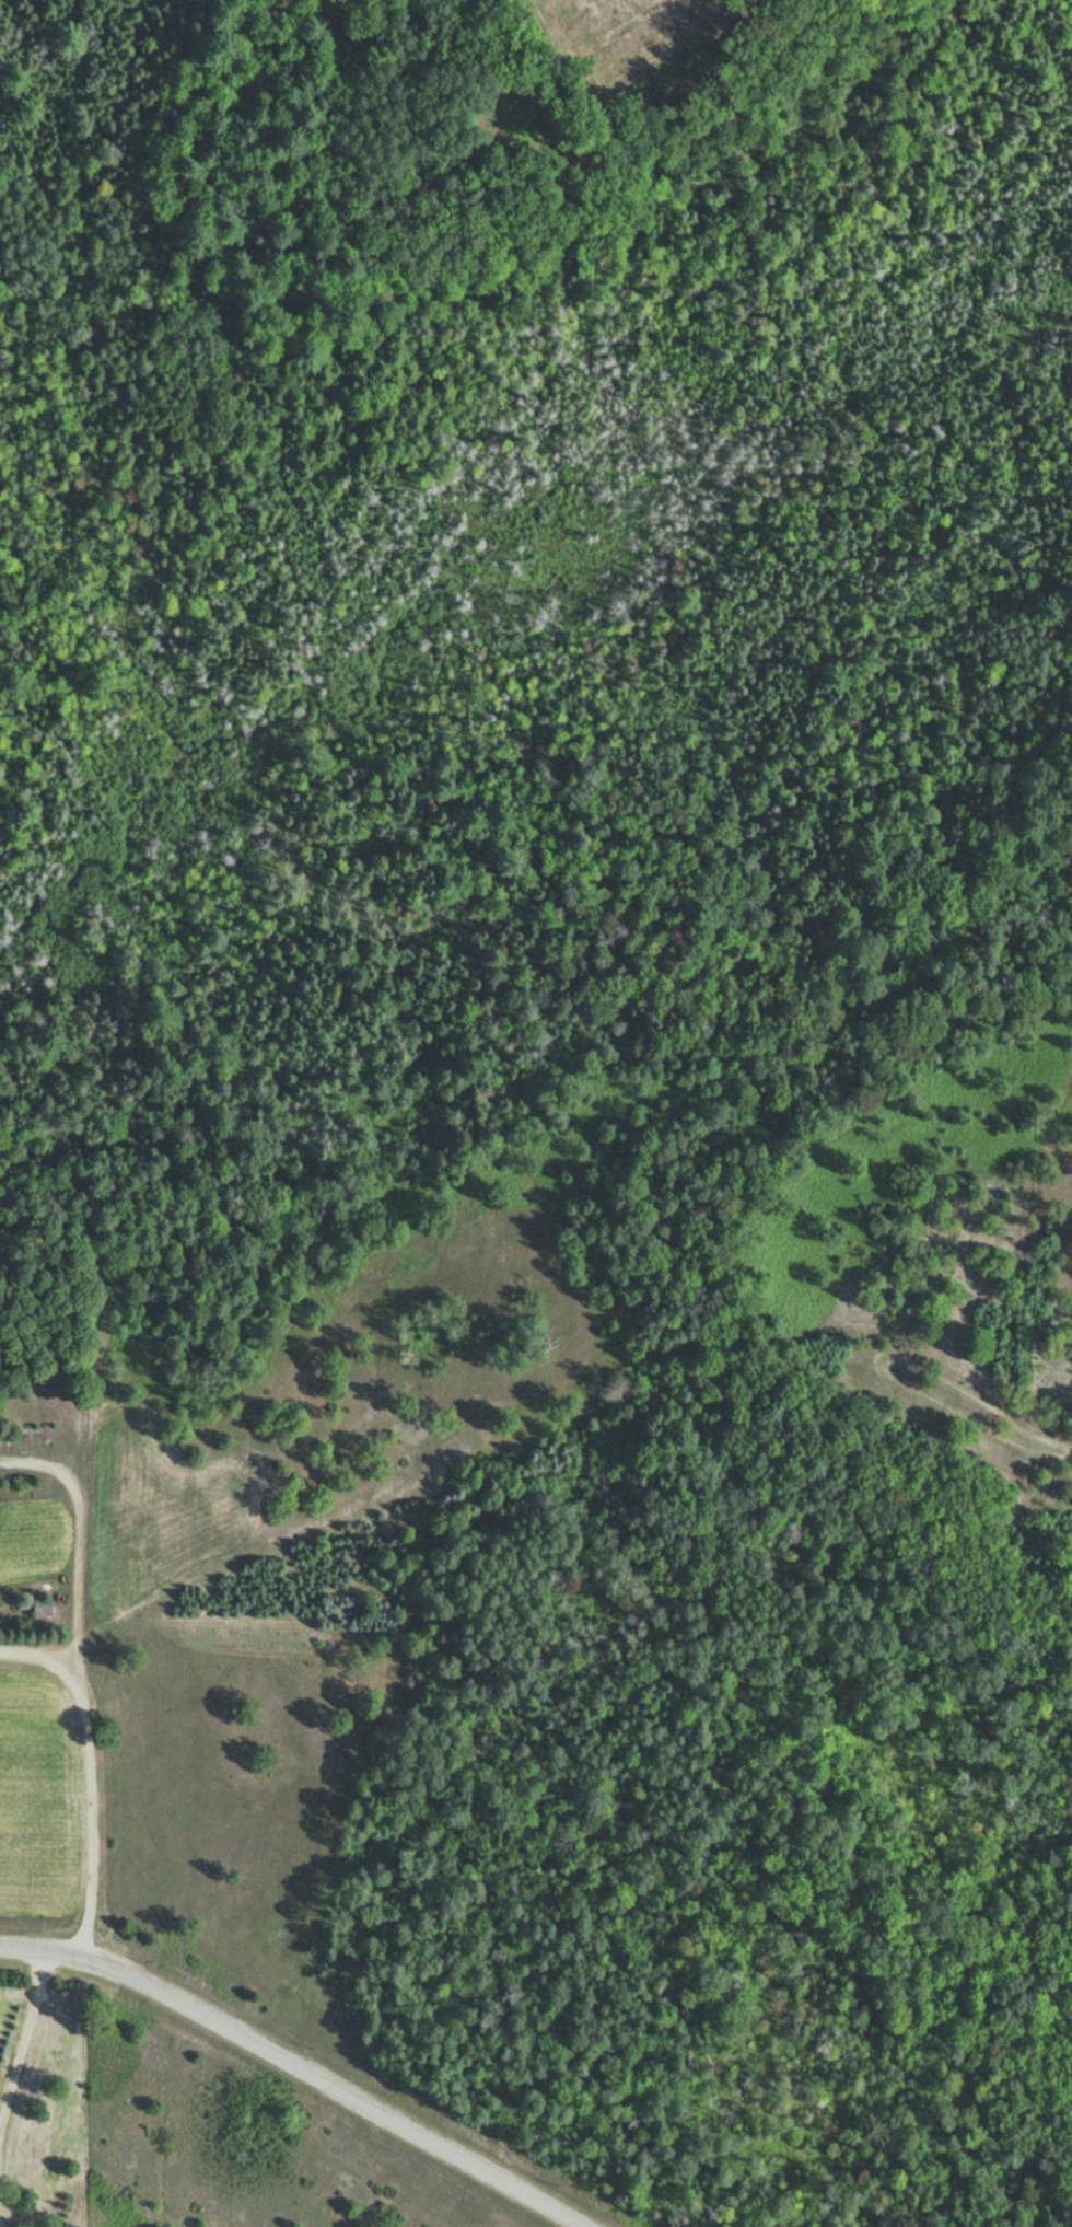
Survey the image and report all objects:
river: (461, 510)
road: (70, 1530)
building: (47, 1610)
road: (89, 1767)
road: (304, 2065)

